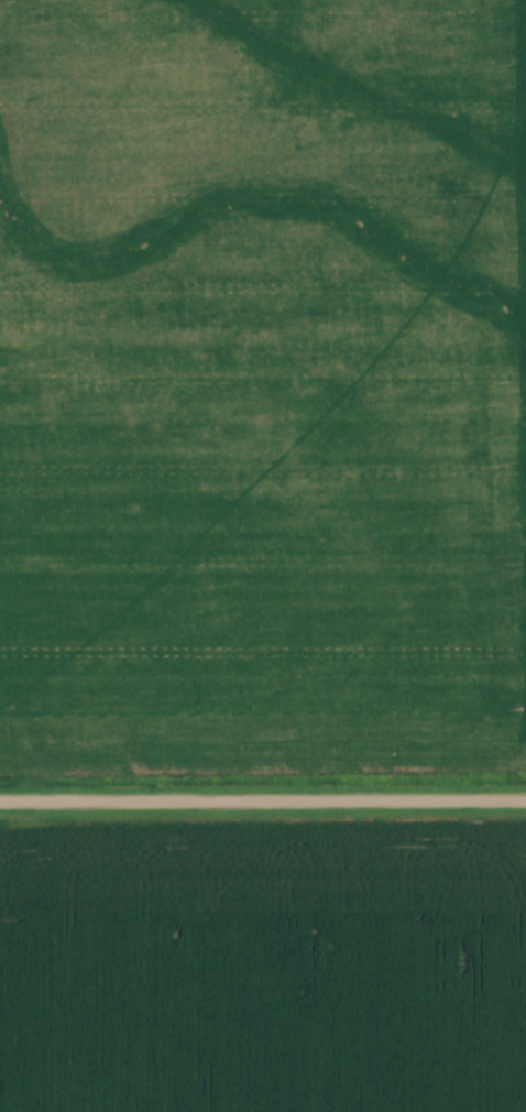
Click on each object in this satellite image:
road: (262, 806)

